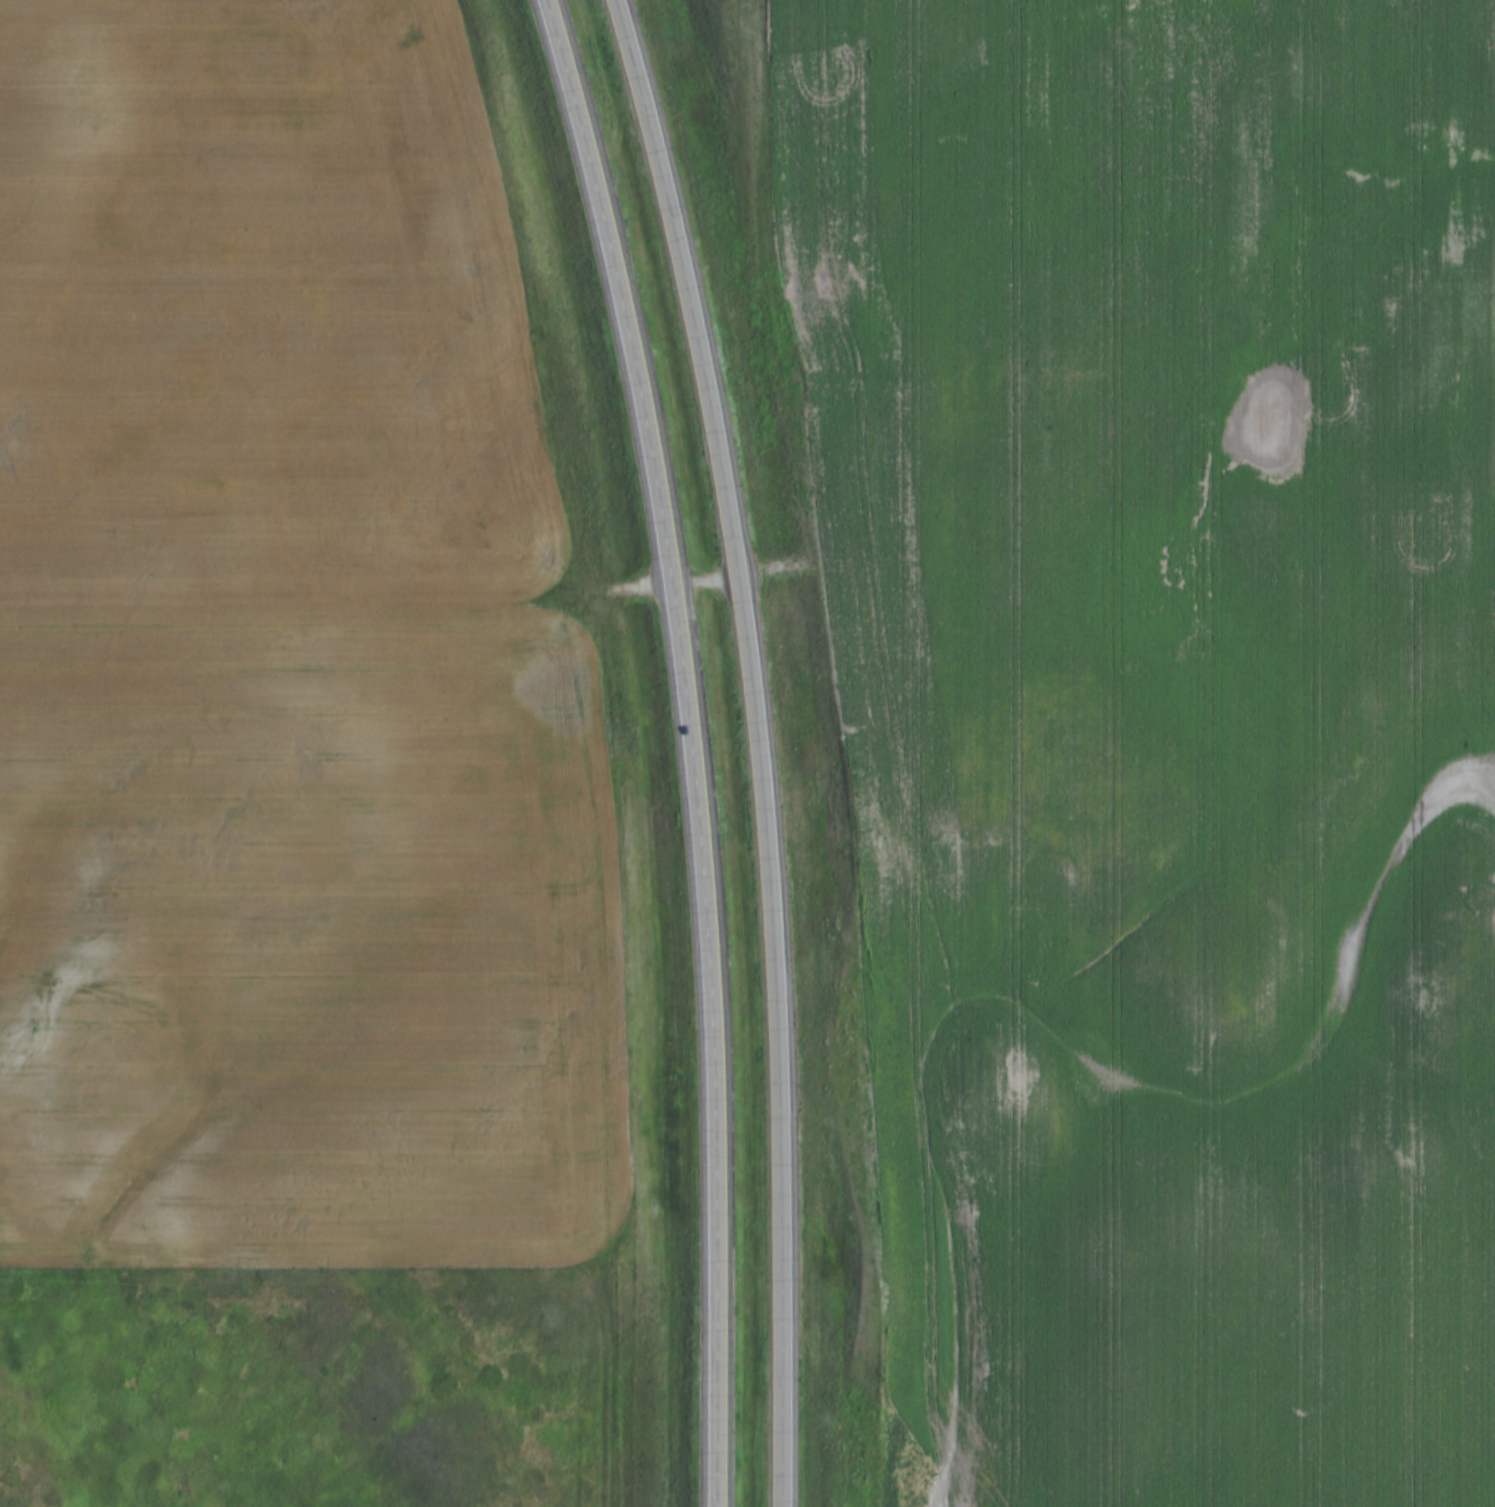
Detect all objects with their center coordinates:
road: (690, 746)
road: (756, 746)

